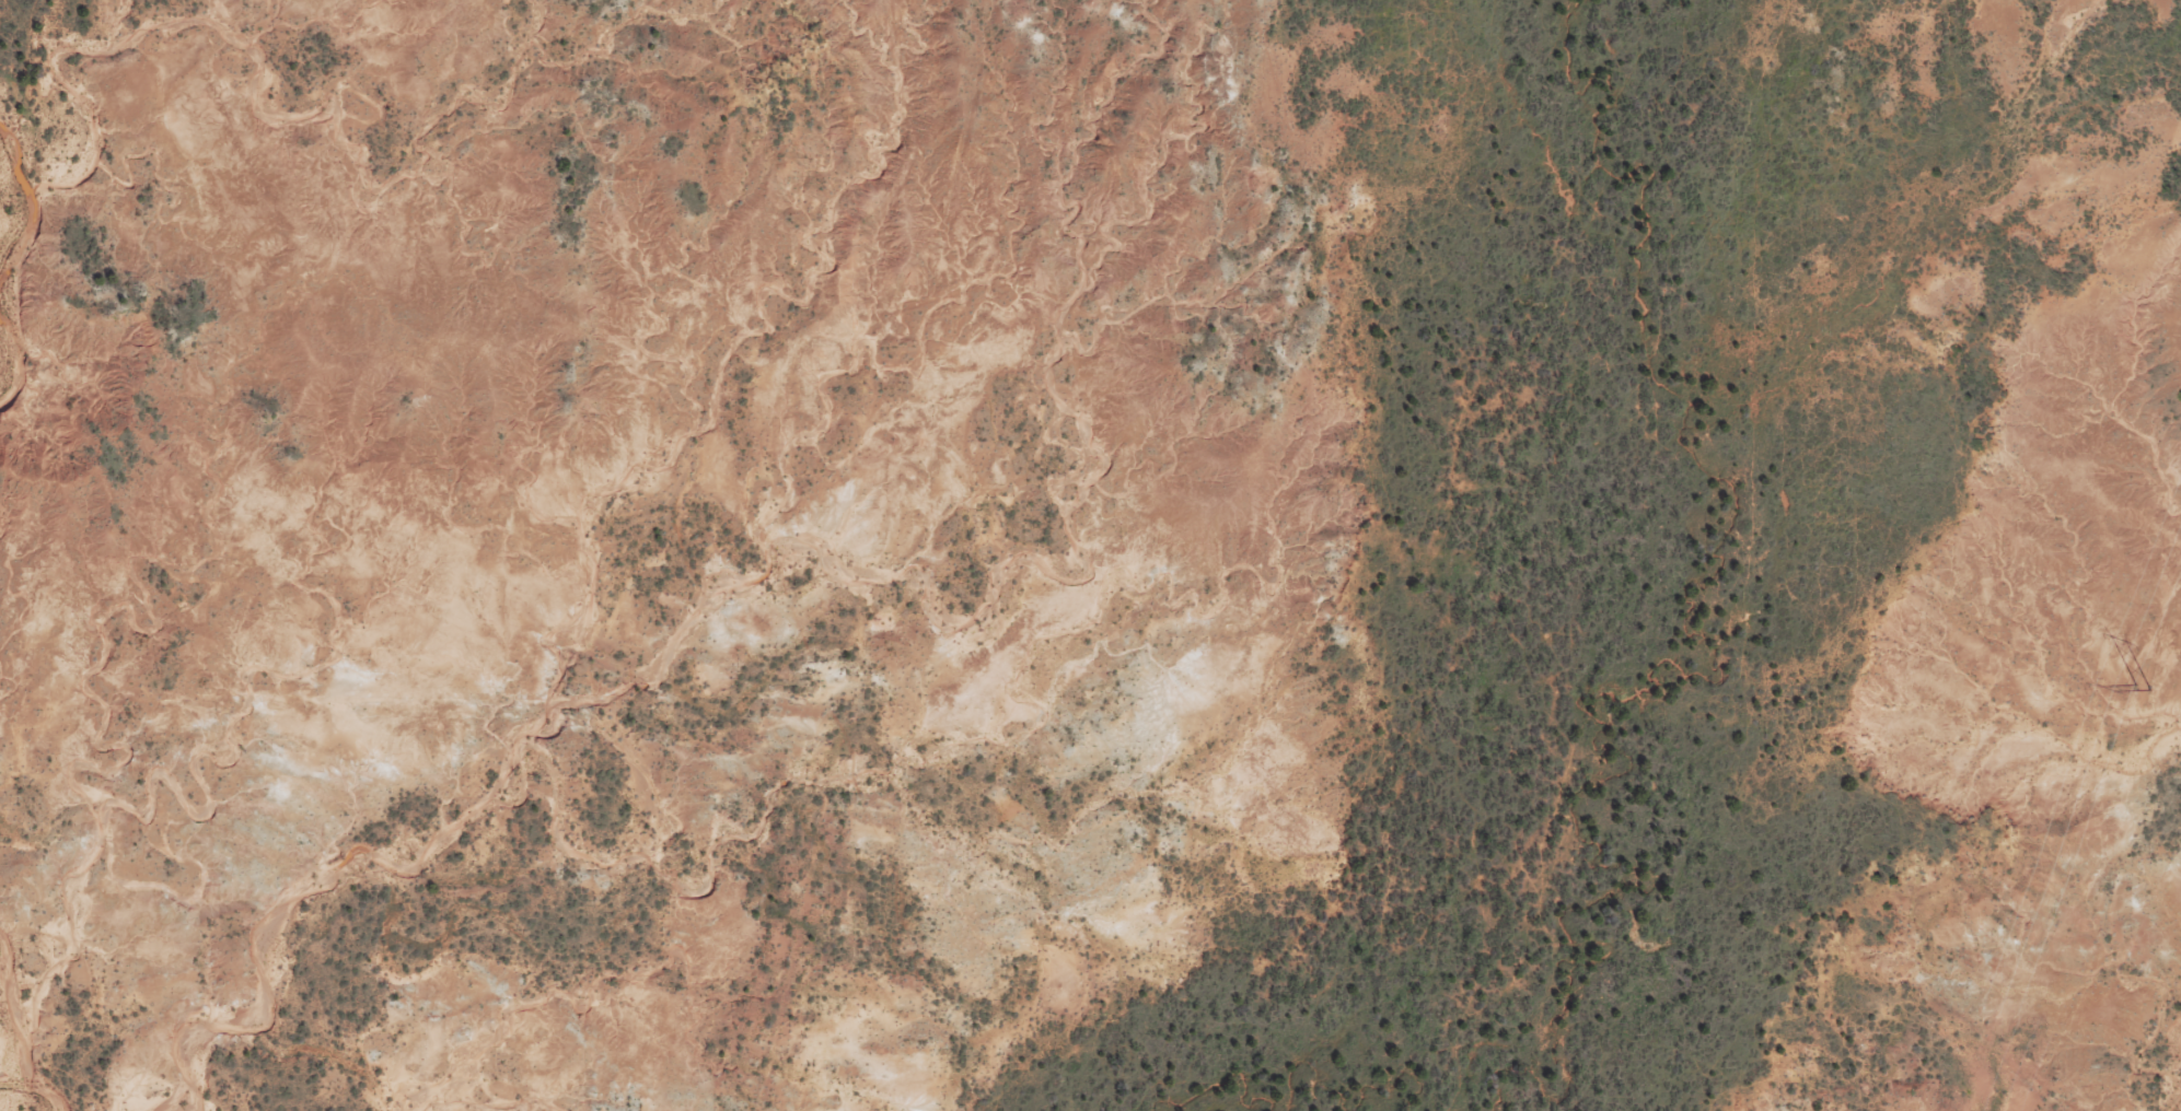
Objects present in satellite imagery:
power tower: (2133, 693)

